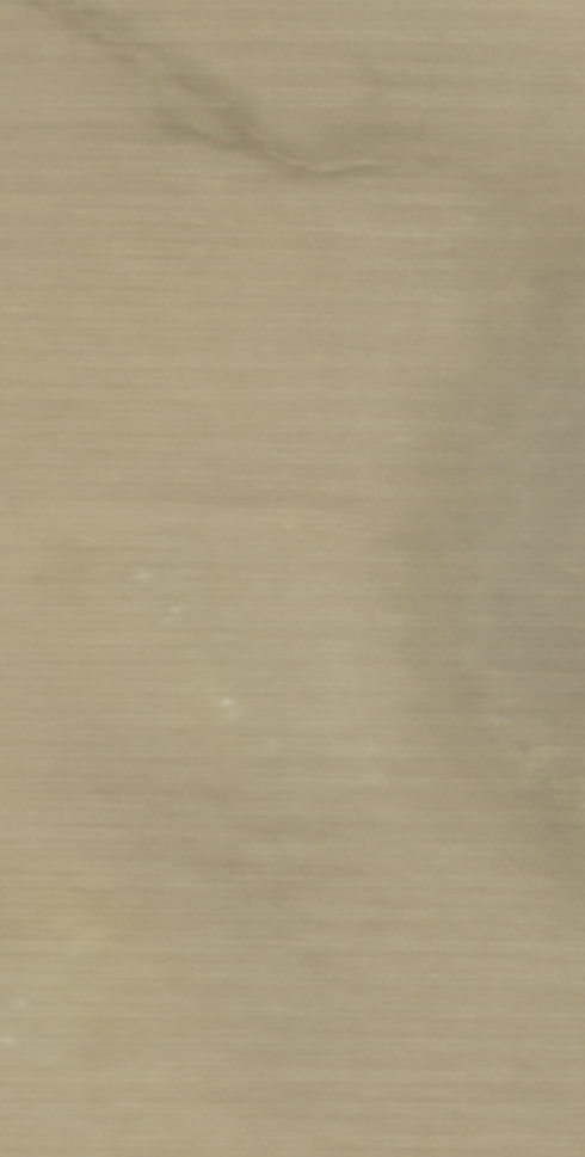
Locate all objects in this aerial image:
crop: (292, 578)

